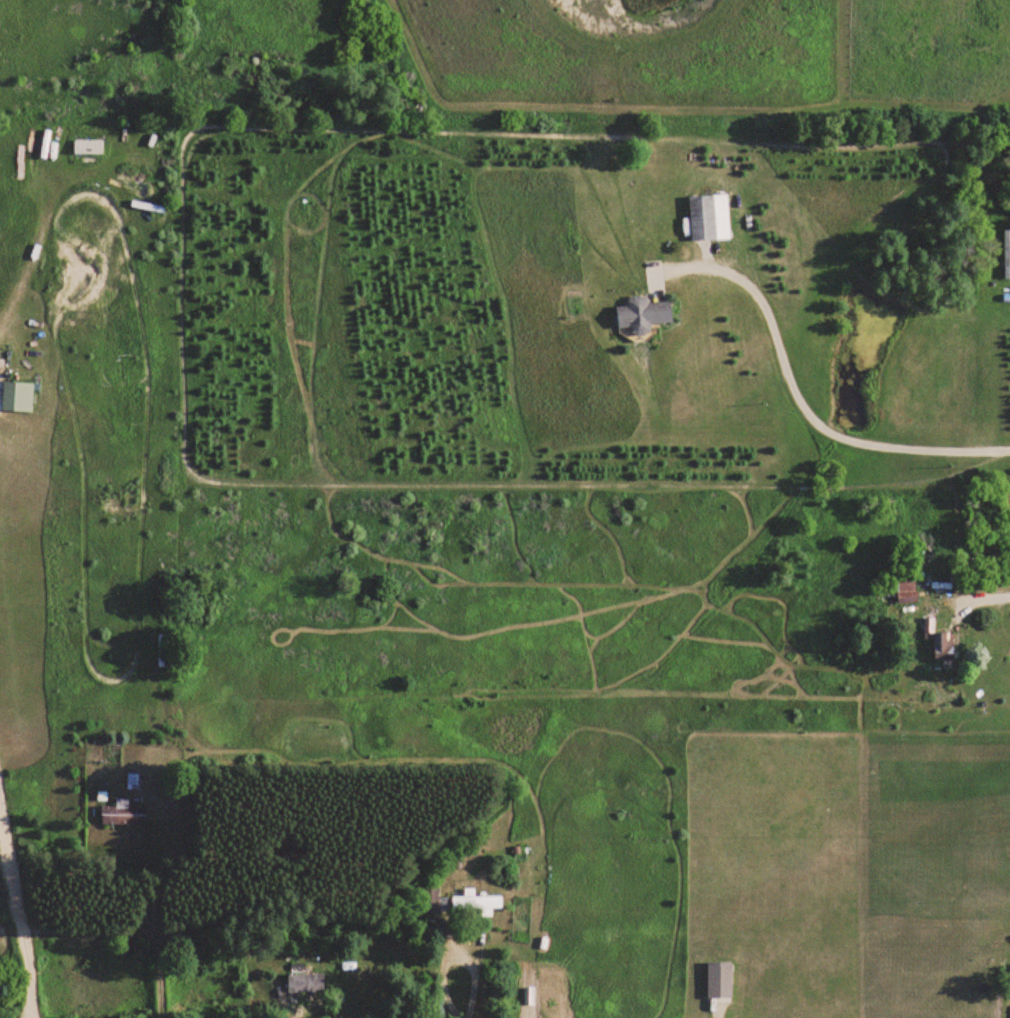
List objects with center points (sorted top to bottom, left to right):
building: (36, 141)
building: (709, 218)
building: (1006, 254)
building: (642, 315)
building: (16, 397)
building: (906, 589)
building: (943, 645)
building: (122, 813)
building: (431, 899)
building: (476, 900)
road: (19, 919)
building: (718, 981)
building: (305, 982)

